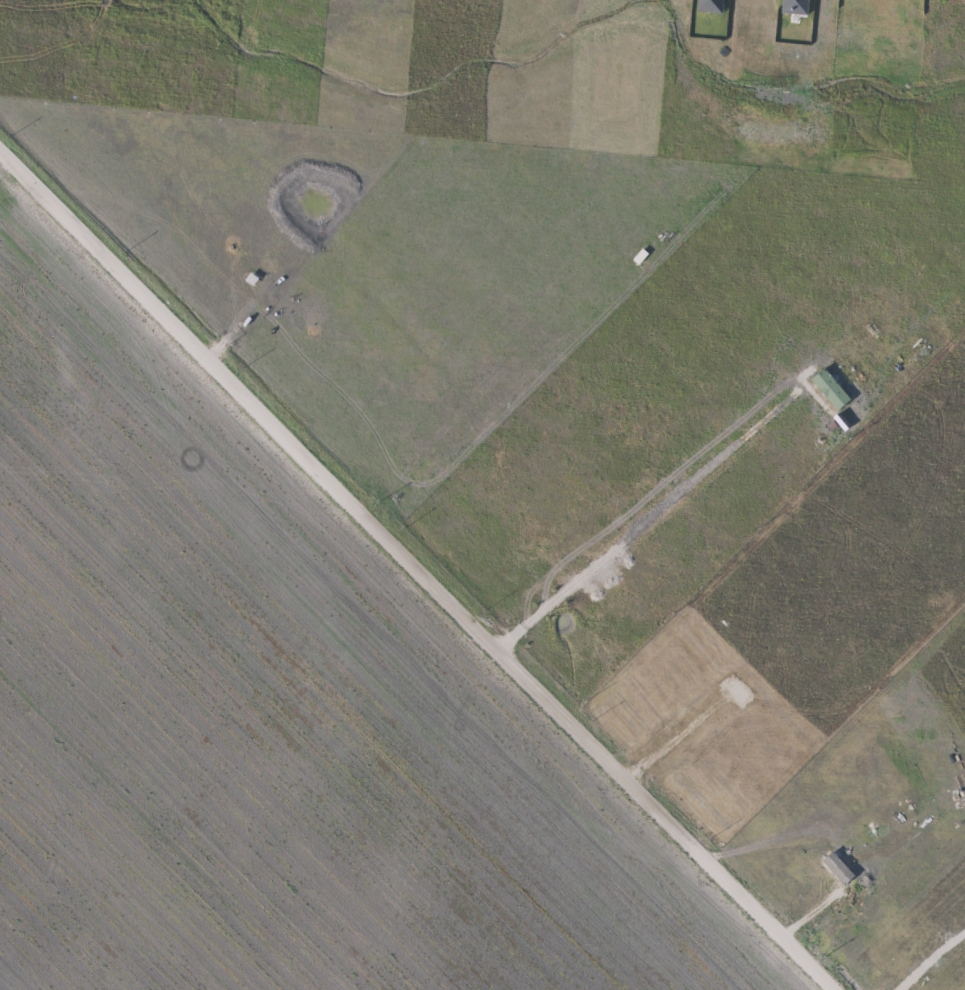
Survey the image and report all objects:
building: (540, 194)
road: (412, 573)

